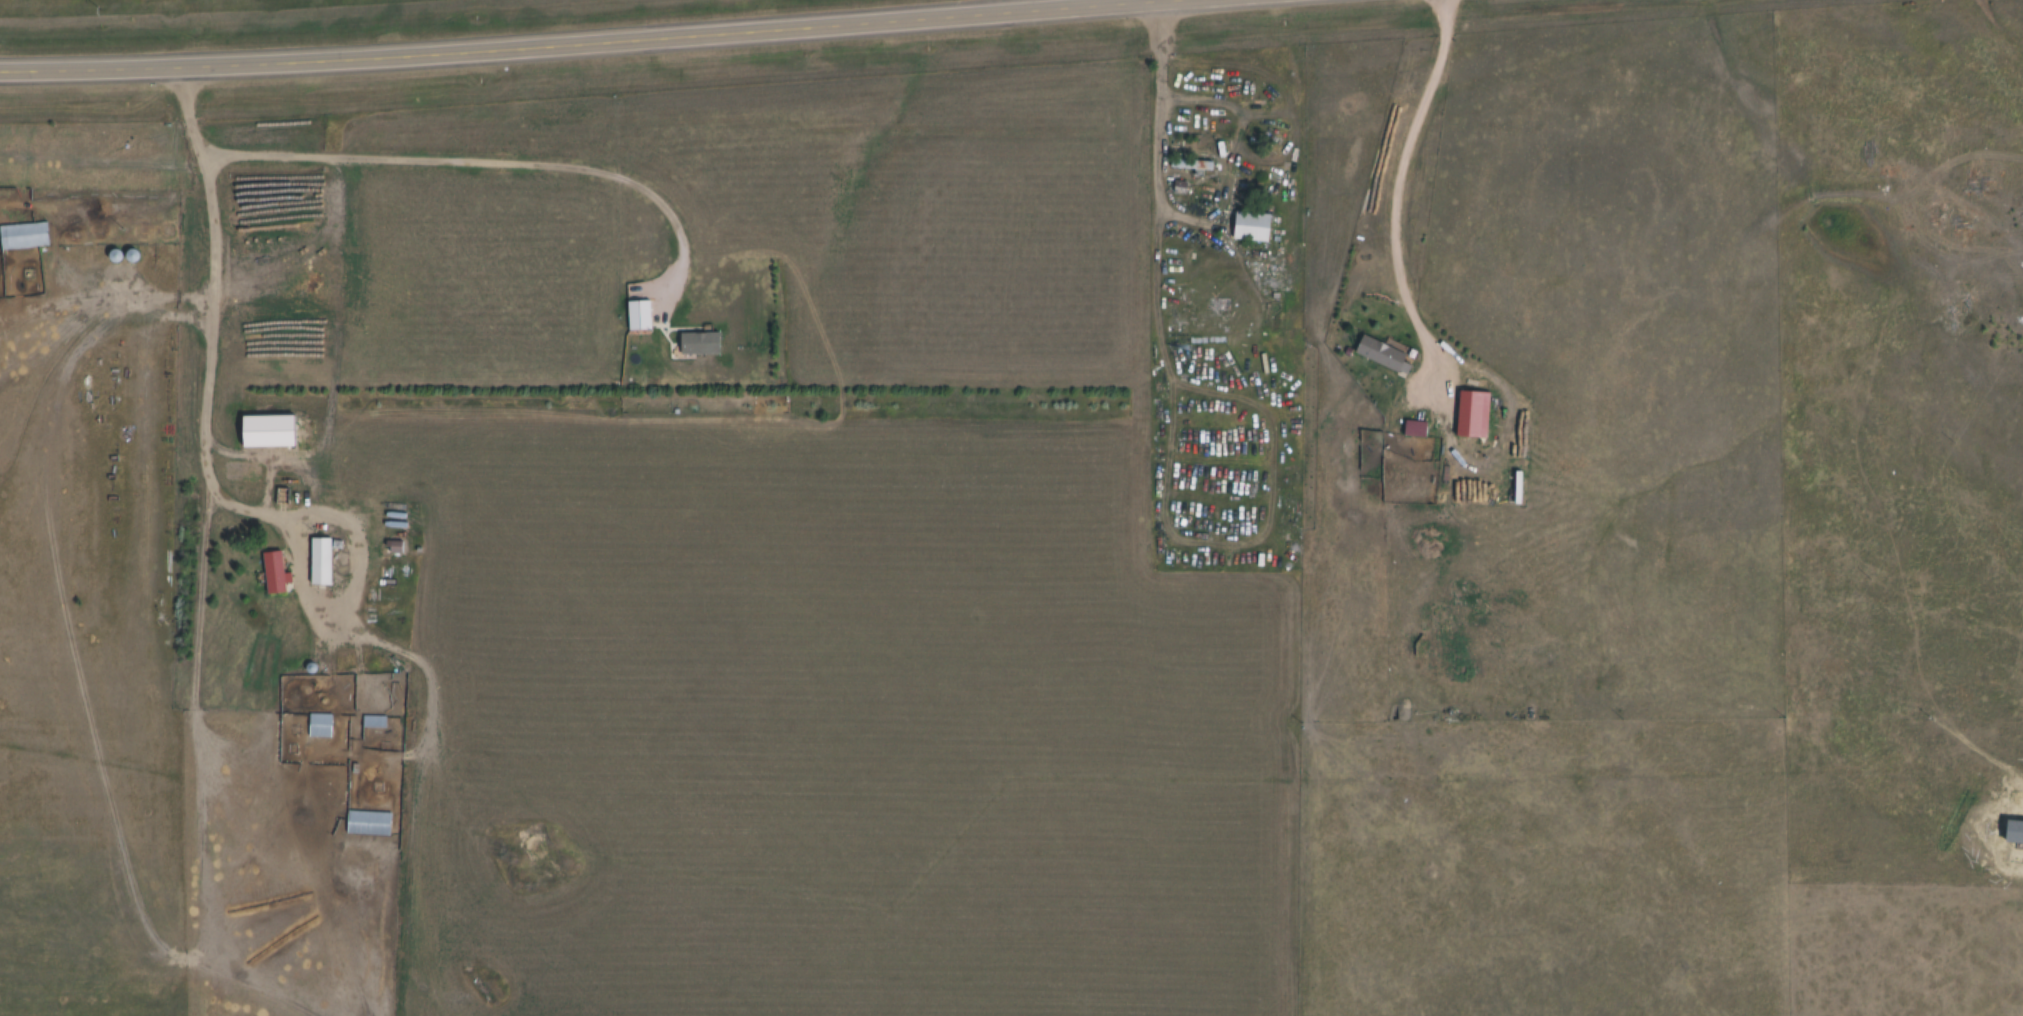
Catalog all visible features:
road: (598, 43)
road: (482, 163)
building: (1189, 165)
road: (203, 181)
road: (1396, 187)
building: (1249, 226)
building: (22, 236)
building: (636, 315)
road: (93, 322)
building: (696, 344)
building: (1380, 355)
road: (1219, 393)
building: (1470, 414)
building: (280, 497)
building: (318, 562)
road: (293, 563)
building: (271, 572)
building: (318, 725)
building: (2016, 798)
road: (1290, 805)
building: (366, 823)

